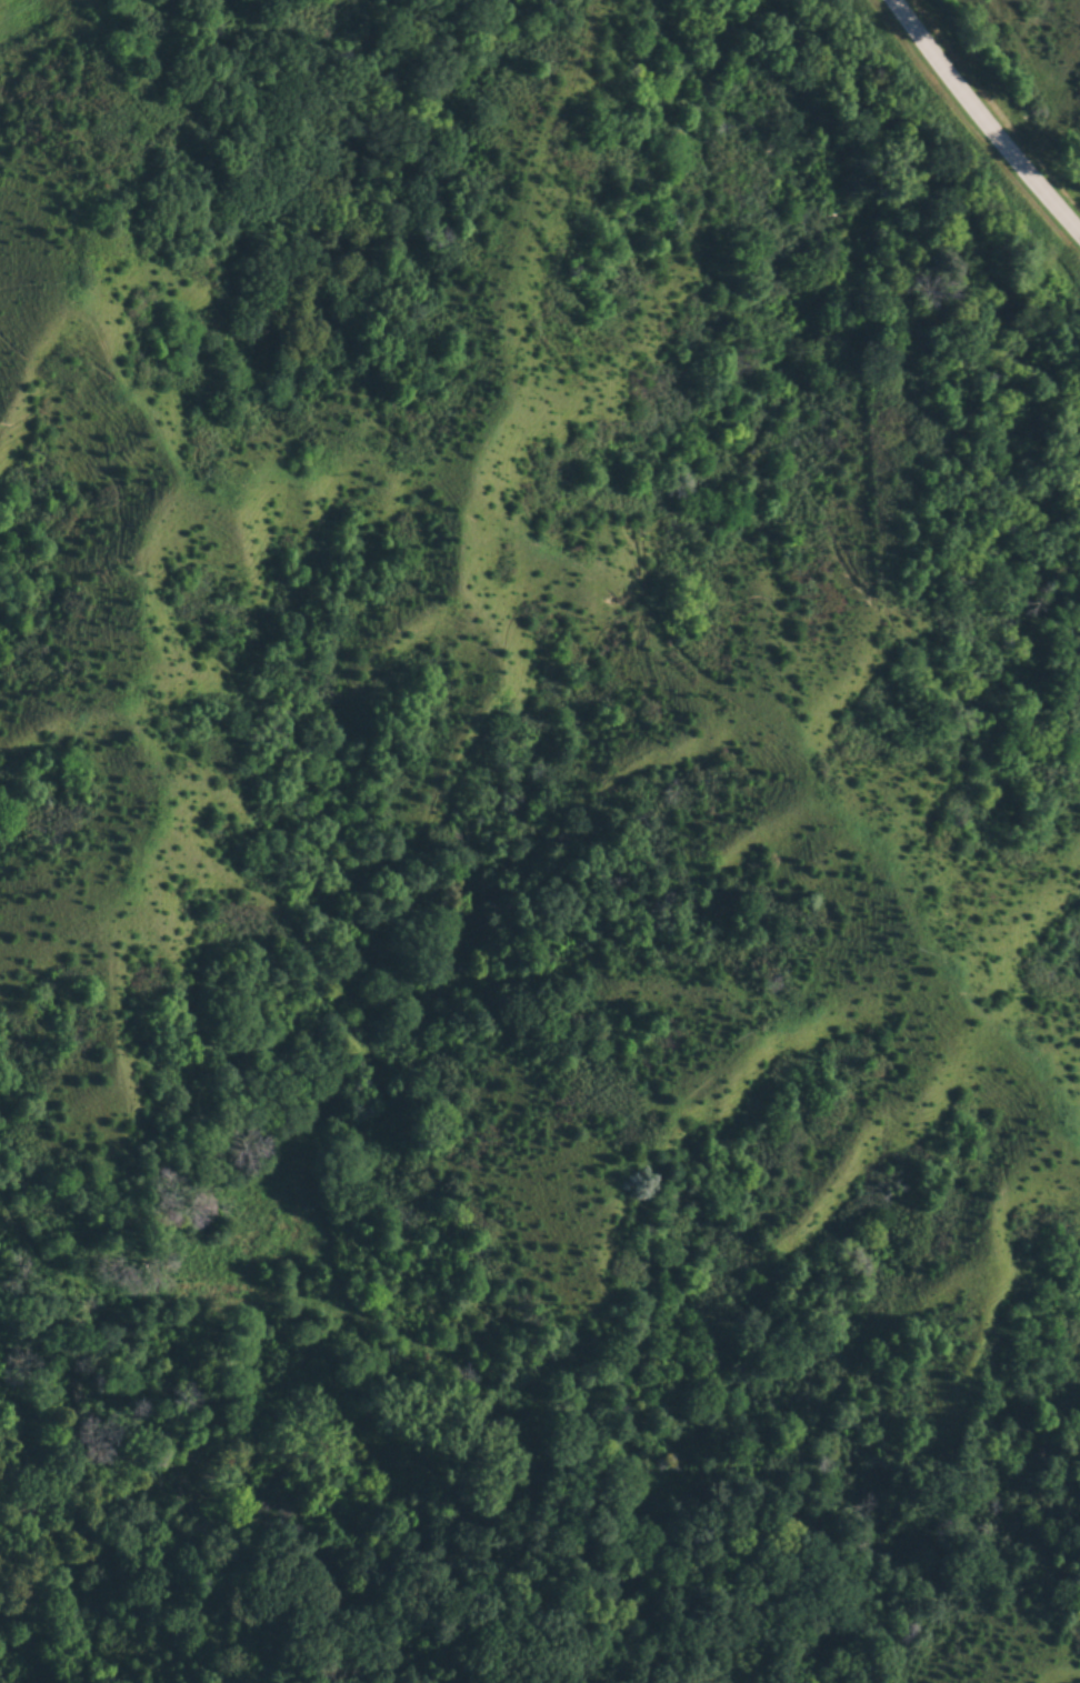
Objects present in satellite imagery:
road: (976, 122)

